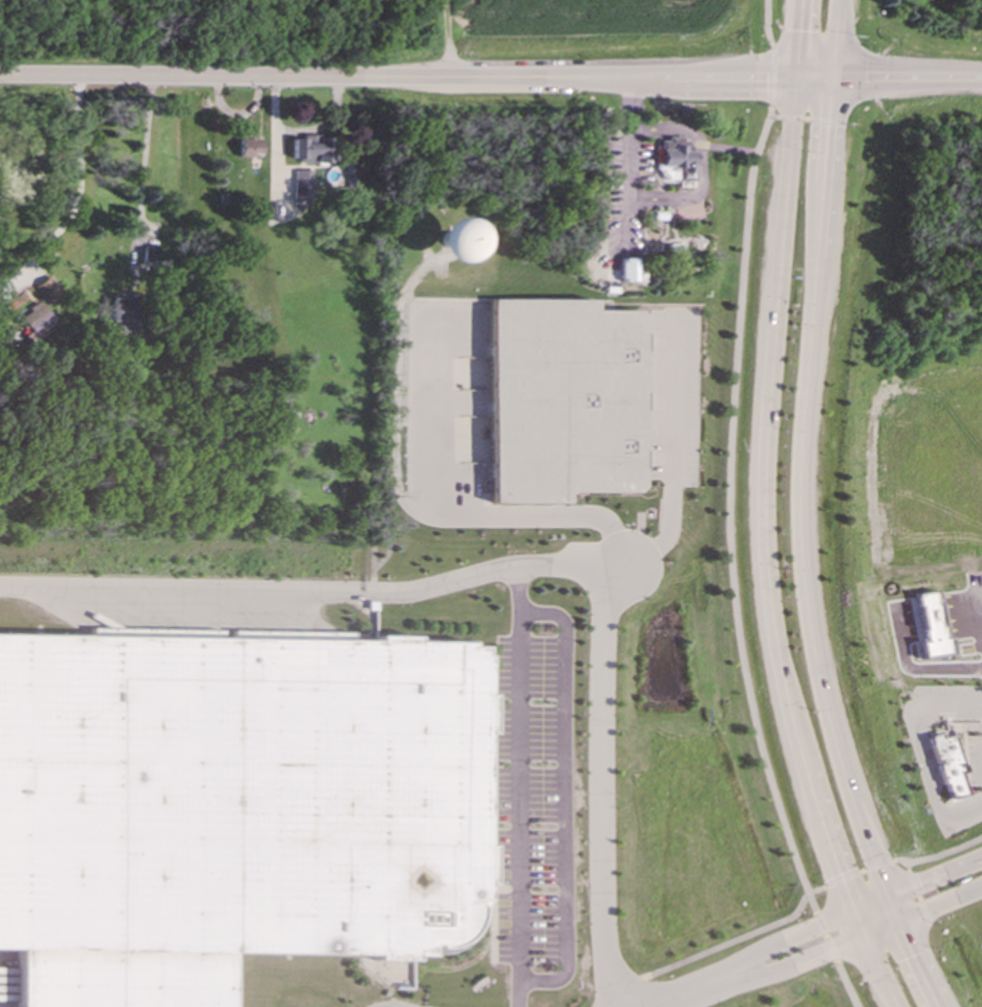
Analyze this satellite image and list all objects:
crop: (589, 19)
road: (830, 39)
road: (903, 77)
road: (413, 78)
traffic signals: (794, 79)
traffic signals: (826, 79)
road: (301, 130)
road: (633, 146)
building: (249, 148)
building: (312, 149)
road: (729, 149)
road: (145, 154)
building: (678, 158)
road: (702, 166)
building: (305, 185)
road: (79, 191)
water tower: (449, 237)
building: (452, 240)
building: (150, 256)
building: (633, 270)
building: (49, 291)
building: (127, 309)
building: (37, 322)
building: (564, 400)
road: (737, 459)
road: (675, 464)
road: (410, 467)
road: (766, 512)
road: (807, 552)
road: (306, 593)
road: (924, 733)
road: (922, 759)
building: (950, 764)
road: (605, 768)
road: (519, 784)
road: (567, 801)
building: (233, 805)
road: (940, 854)
road: (859, 872)
road: (917, 892)
traffic signals: (884, 896)
road: (852, 909)
traffic signals: (850, 910)
traffic signals: (896, 923)
road: (858, 936)
traffic signals: (860, 936)
road: (823, 937)
road: (719, 945)
road: (844, 984)
road: (693, 990)

